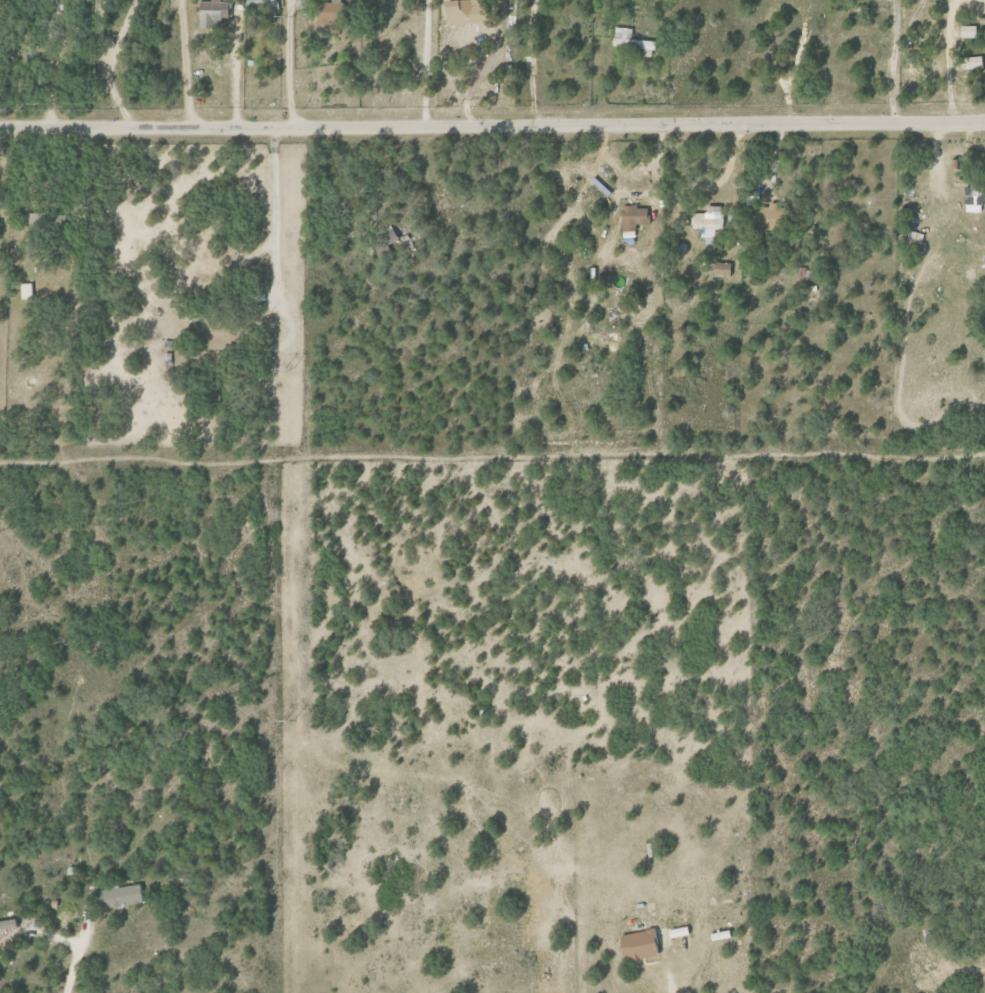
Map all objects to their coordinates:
building: (258, 3)
building: (328, 11)
building: (462, 12)
building: (212, 13)
power tower: (290, 16)
building: (966, 31)
road: (93, 35)
road: (116, 35)
building: (631, 41)
road: (891, 61)
building: (973, 62)
road: (283, 64)
road: (425, 64)
road: (180, 65)
road: (114, 102)
road: (492, 127)
road: (716, 185)
road: (624, 194)
building: (971, 199)
road: (273, 213)
building: (632, 217)
building: (764, 217)
building: (707, 218)
building: (387, 236)
road: (231, 261)
building: (721, 269)
building: (26, 290)
power tower: (289, 368)
power tower: (289, 721)
building: (120, 897)
building: (636, 945)
road: (68, 967)
road: (664, 980)

